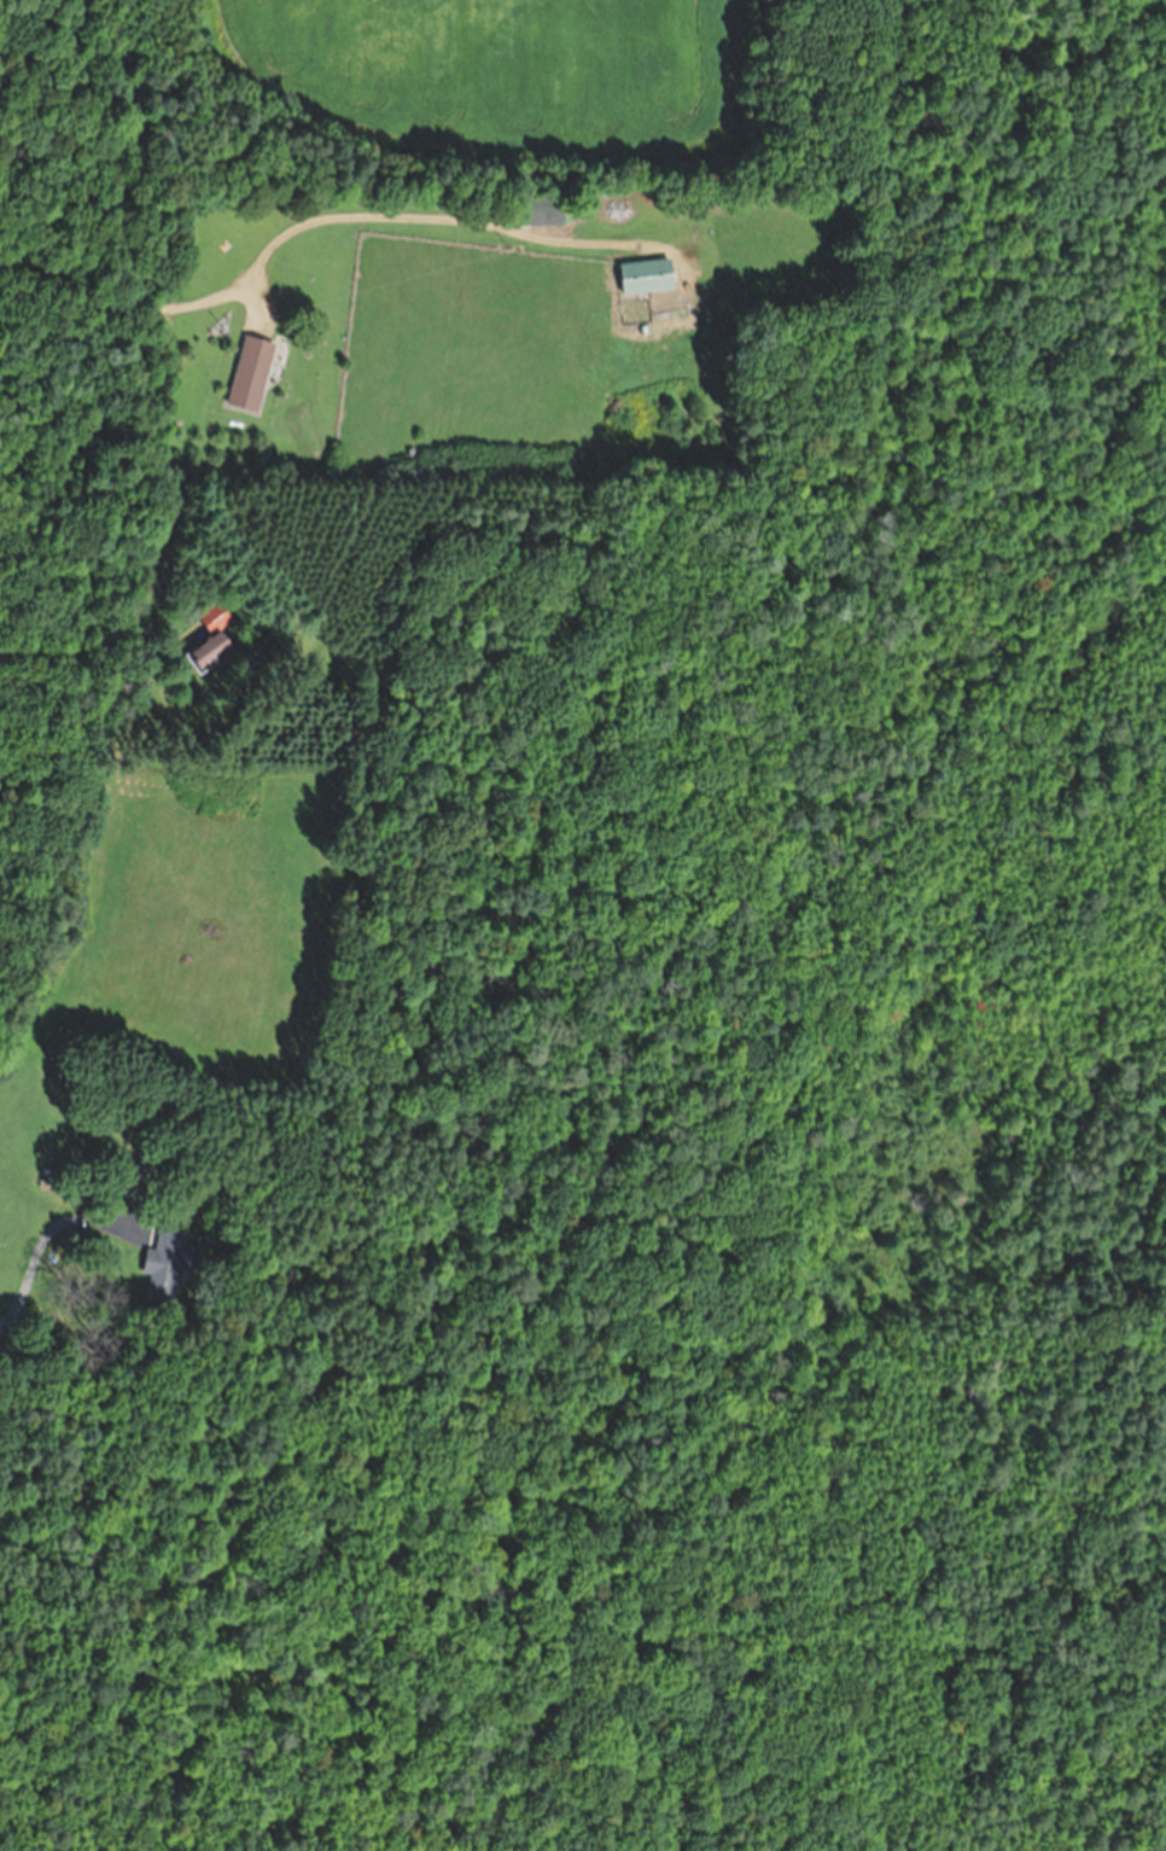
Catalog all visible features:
building: (547, 210)
building: (648, 275)
building: (251, 373)
building: (215, 617)
building: (211, 652)
building: (139, 1170)
building: (165, 1262)

